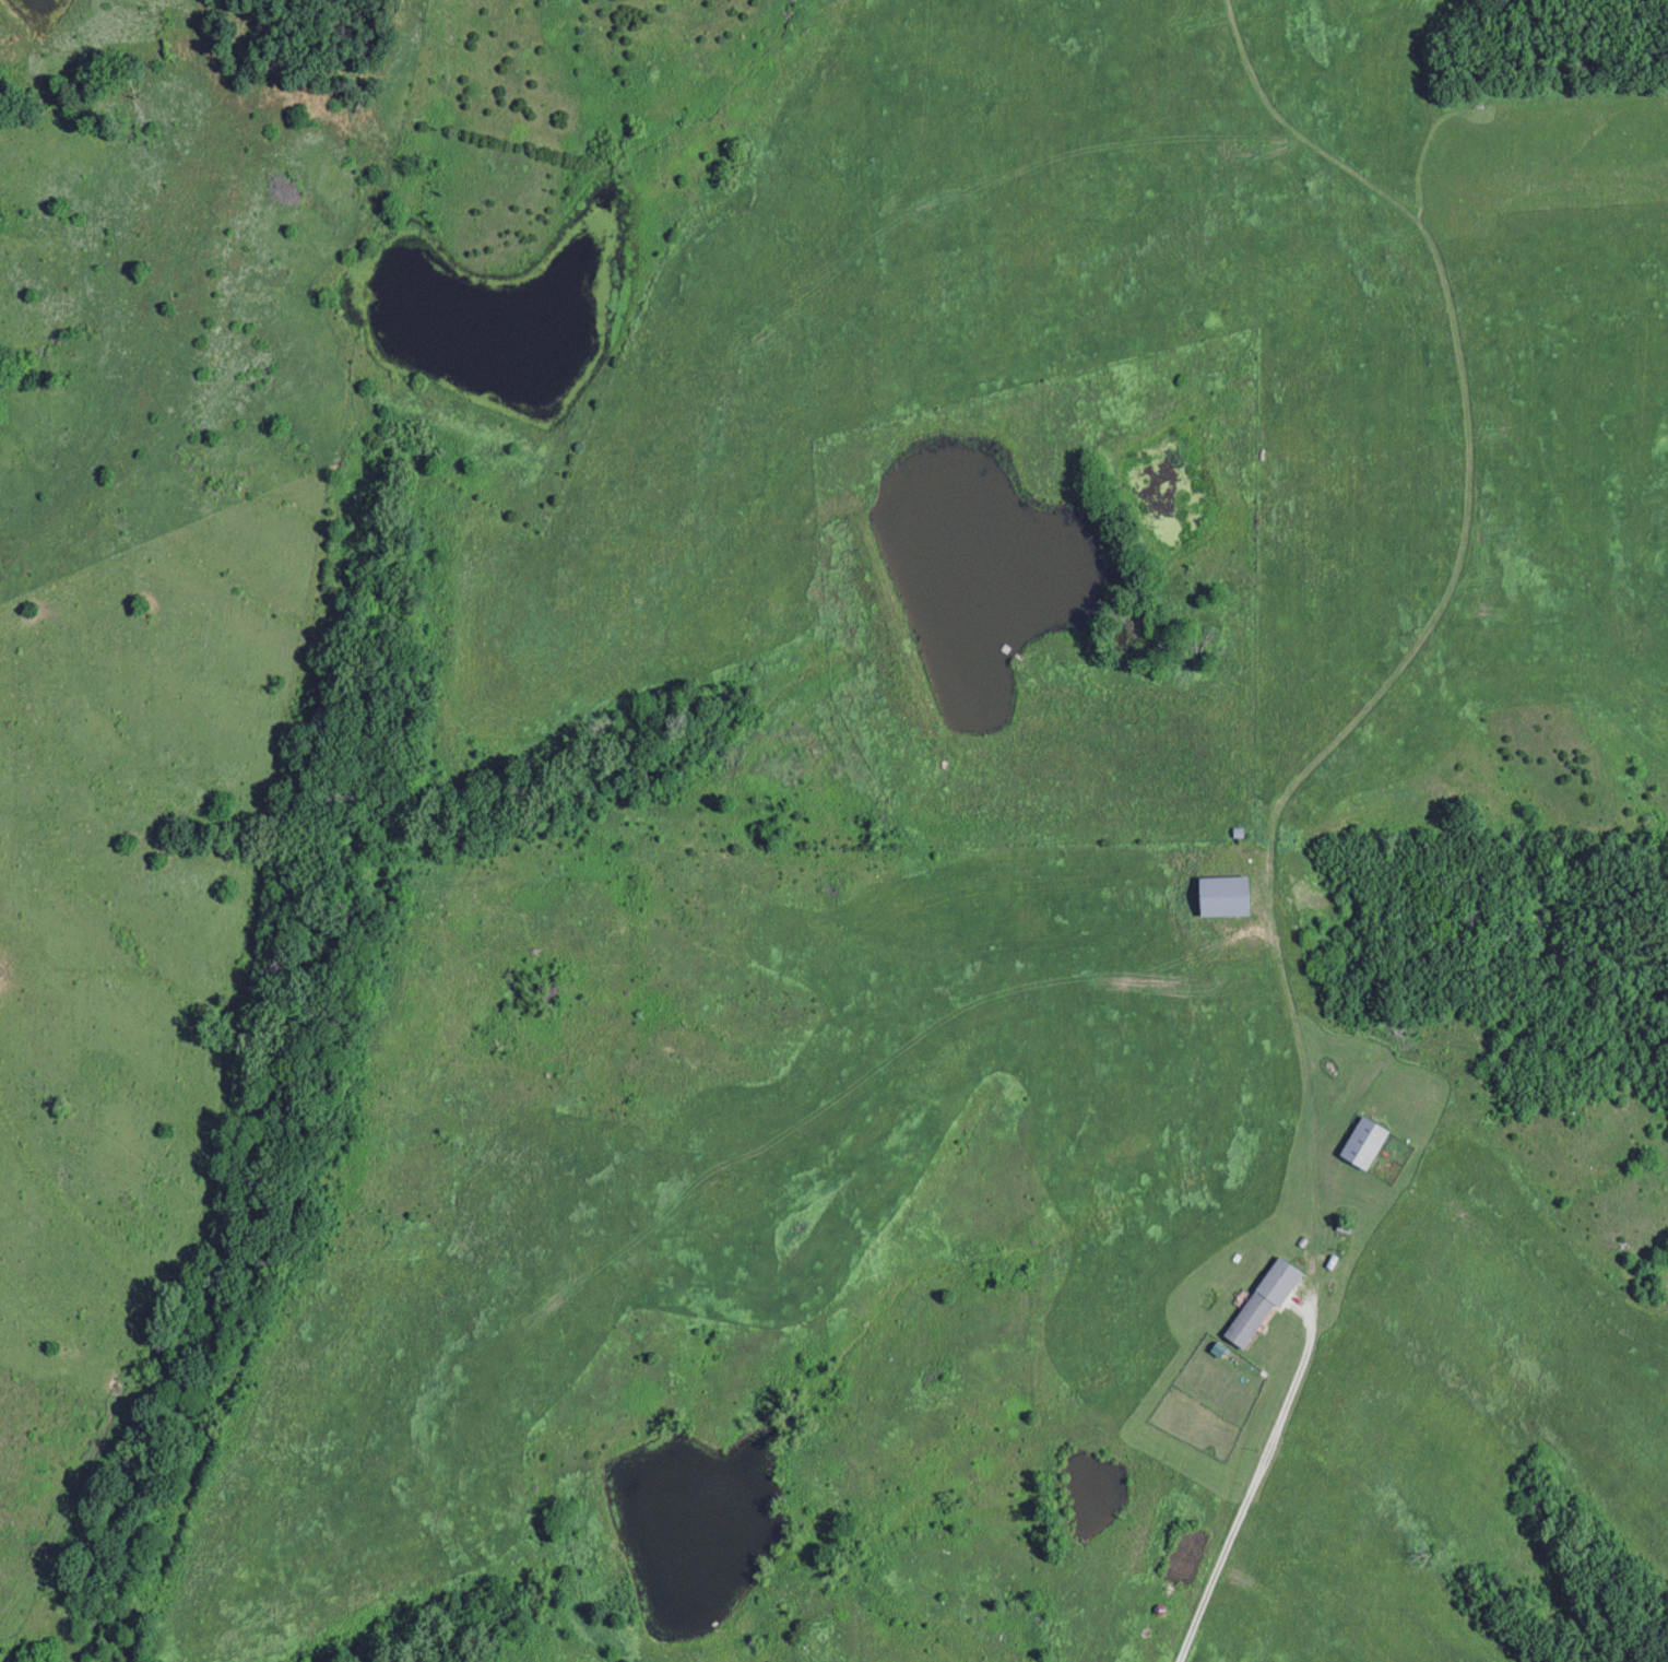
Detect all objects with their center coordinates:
building: (1362, 1143)
building: (1262, 1300)
road: (1252, 1478)

